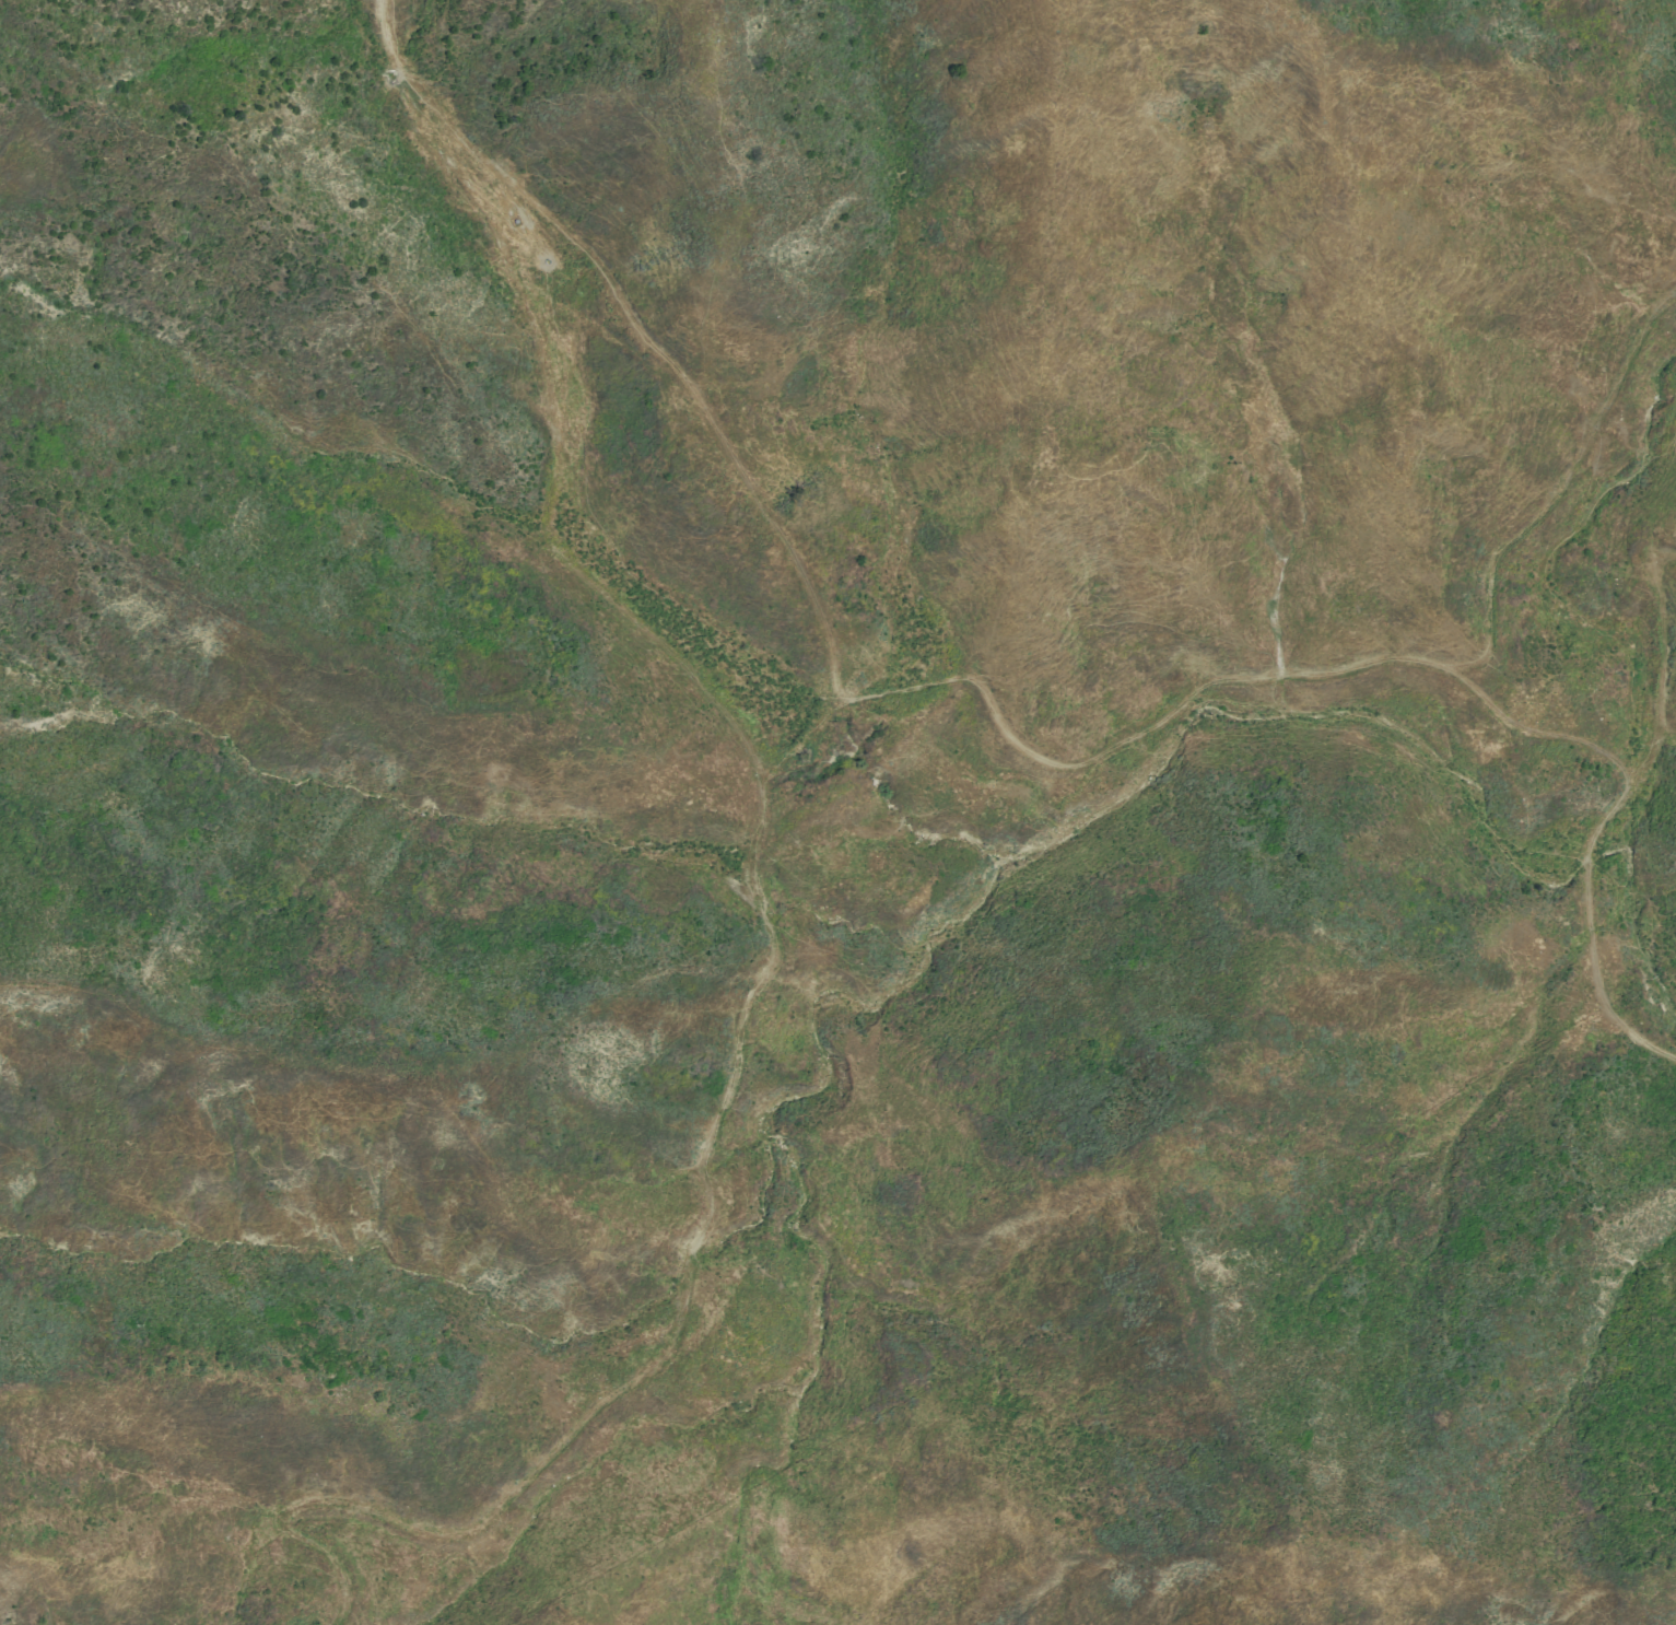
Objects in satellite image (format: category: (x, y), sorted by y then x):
road: (783, 950)

